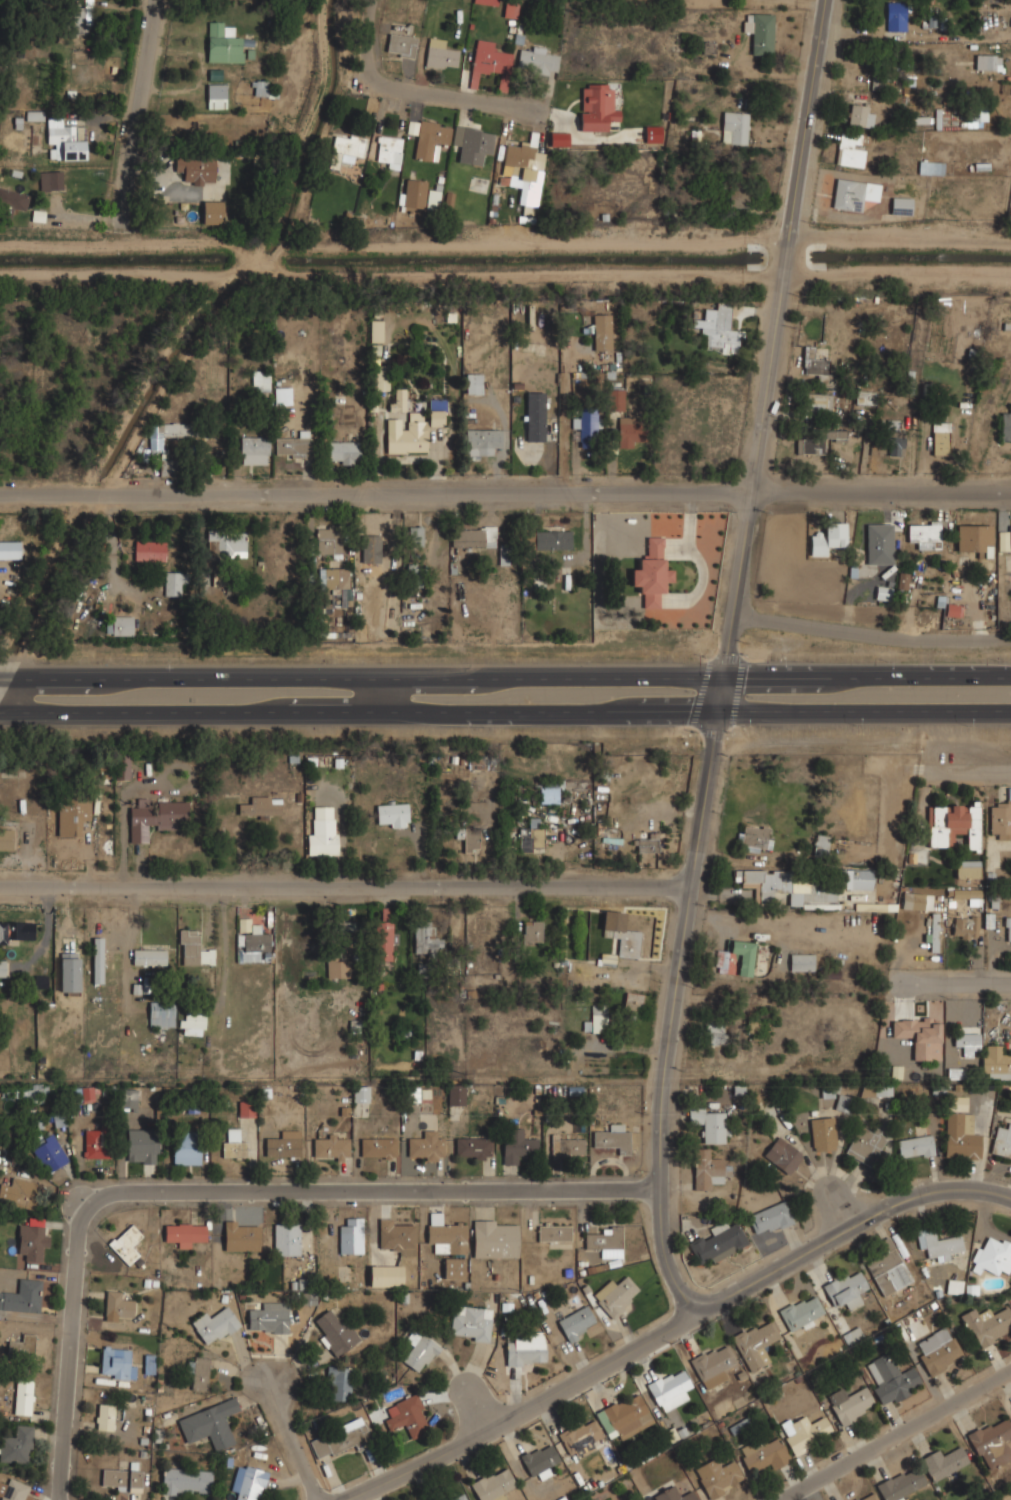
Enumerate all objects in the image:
building: (487, 1)
building: (509, 8)
building: (895, 15)
building: (79, 16)
building: (759, 31)
building: (225, 42)
building: (401, 44)
building: (440, 53)
building: (490, 58)
building: (537, 60)
building: (987, 61)
building: (260, 87)
road: (409, 90)
building: (216, 94)
building: (596, 106)
road: (142, 110)
building: (859, 114)
building: (734, 126)
building: (412, 127)
building: (79, 133)
building: (653, 134)
building: (430, 137)
building: (559, 139)
building: (62, 140)
building: (470, 141)
building: (348, 146)
building: (850, 150)
building: (389, 151)
building: (522, 165)
building: (930, 167)
building: (195, 169)
building: (51, 179)
building: (412, 192)
building: (854, 193)
building: (431, 199)
building: (10, 201)
building: (901, 205)
building: (211, 211)
road: (88, 219)
building: (376, 331)
building: (602, 331)
building: (718, 333)
building: (816, 363)
building: (260, 379)
building: (381, 381)
building: (473, 382)
building: (282, 395)
building: (866, 397)
building: (398, 399)
building: (615, 399)
building: (816, 403)
building: (437, 411)
building: (535, 416)
building: (1005, 423)
building: (585, 428)
building: (171, 431)
building: (628, 431)
building: (408, 435)
road: (567, 437)
building: (895, 437)
building: (940, 437)
building: (481, 439)
building: (814, 441)
building: (292, 446)
building: (254, 450)
building: (344, 451)
building: (166, 464)
road: (505, 494)
building: (924, 533)
building: (415, 535)
building: (473, 536)
building: (974, 536)
building: (827, 537)
building: (328, 539)
building: (551, 539)
building: (1005, 540)
building: (226, 541)
building: (879, 542)
building: (370, 548)
building: (9, 549)
building: (148, 549)
building: (651, 572)
building: (333, 578)
building: (903, 581)
building: (173, 582)
building: (883, 592)
building: (952, 610)
building: (119, 624)
road: (870, 634)
road: (722, 660)
traffic signals: (720, 674)
road: (865, 674)
road: (360, 677)
road: (9, 694)
road: (380, 695)
road: (862, 711)
road: (356, 712)
traffic signals: (713, 712)
building: (124, 768)
road: (972, 768)
building: (441, 784)
building: (549, 792)
building: (259, 806)
building: (75, 808)
building: (171, 812)
building: (392, 814)
building: (1000, 818)
building: (953, 823)
building: (137, 826)
building: (322, 832)
building: (753, 837)
building: (6, 838)
building: (471, 839)
building: (530, 839)
building: (647, 843)
building: (821, 844)
building: (967, 868)
building: (857, 878)
building: (763, 881)
road: (345, 885)
building: (819, 892)
building: (967, 894)
building: (917, 900)
building: (965, 926)
building: (1008, 928)
building: (532, 931)
building: (17, 932)
building: (933, 933)
building: (621, 935)
building: (425, 938)
building: (250, 939)
building: (384, 940)
building: (192, 948)
building: (148, 956)
building: (735, 957)
building: (97, 960)
building: (606, 960)
building: (801, 961)
building: (2, 966)
building: (336, 968)
building: (69, 971)
road: (955, 985)
building: (143, 986)
building: (632, 1000)
building: (160, 1013)
building: (596, 1020)
building: (753, 1023)
building: (191, 1024)
building: (915, 1030)
building: (715, 1031)
building: (966, 1038)
building: (995, 1061)
building: (903, 1067)
power tower: (460, 1077)
power tower: (876, 1078)
building: (876, 1090)
building: (85, 1093)
building: (360, 1093)
building: (455, 1093)
building: (127, 1100)
building: (842, 1103)
building: (245, 1107)
building: (708, 1123)
building: (822, 1132)
building: (960, 1136)
building: (613, 1137)
building: (1002, 1141)
building: (232, 1142)
building: (94, 1143)
building: (282, 1143)
building: (516, 1144)
building: (864, 1145)
building: (141, 1146)
building: (377, 1146)
building: (425, 1146)
building: (567, 1146)
building: (915, 1146)
building: (330, 1147)
building: (472, 1147)
building: (186, 1150)
building: (48, 1152)
building: (782, 1154)
building: (706, 1168)
road: (363, 1190)
building: (18, 1191)
building: (770, 1217)
building: (554, 1231)
building: (184, 1233)
building: (445, 1234)
building: (350, 1235)
building: (396, 1235)
building: (239, 1236)
building: (286, 1238)
building: (494, 1238)
building: (606, 1240)
building: (32, 1241)
building: (717, 1241)
building: (127, 1243)
building: (938, 1243)
building: (992, 1256)
building: (453, 1267)
building: (887, 1268)
building: (385, 1274)
building: (954, 1285)
building: (846, 1288)
building: (22, 1295)
building: (615, 1295)
building: (309, 1298)
building: (117, 1305)
building: (801, 1311)
building: (268, 1317)
building: (470, 1322)
building: (577, 1323)
building: (214, 1324)
building: (987, 1324)
road: (674, 1327)
building: (334, 1332)
building: (754, 1343)
building: (27, 1346)
building: (938, 1351)
building: (525, 1352)
building: (420, 1353)
building: (711, 1361)
building: (116, 1362)
road: (68, 1364)
building: (198, 1373)
building: (891, 1378)
building: (338, 1383)
building: (669, 1388)
building: (23, 1397)
building: (849, 1404)
building: (406, 1414)
building: (624, 1415)
building: (104, 1416)
building: (210, 1423)
building: (804, 1431)
building: (580, 1435)
road: (899, 1436)
building: (341, 1437)
road: (291, 1439)
building: (992, 1441)
building: (17, 1444)
building: (764, 1452)
building: (538, 1459)
building: (943, 1462)
building: (717, 1476)
building: (123, 1479)
building: (186, 1480)
building: (250, 1483)
building: (492, 1484)
building: (900, 1484)
building: (13, 1489)
building: (675, 1494)
building: (865, 1496)
building: (455, 1497)

